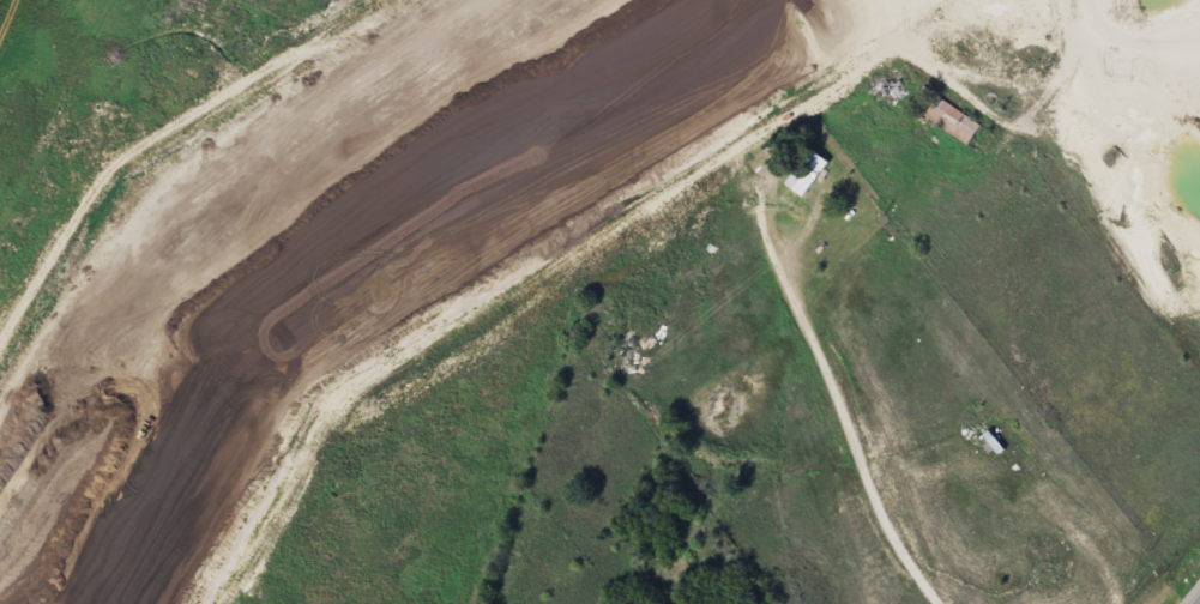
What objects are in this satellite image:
road: (899, 44)
building: (850, 50)
building: (949, 120)
road: (502, 146)
building: (803, 171)
road: (854, 437)

